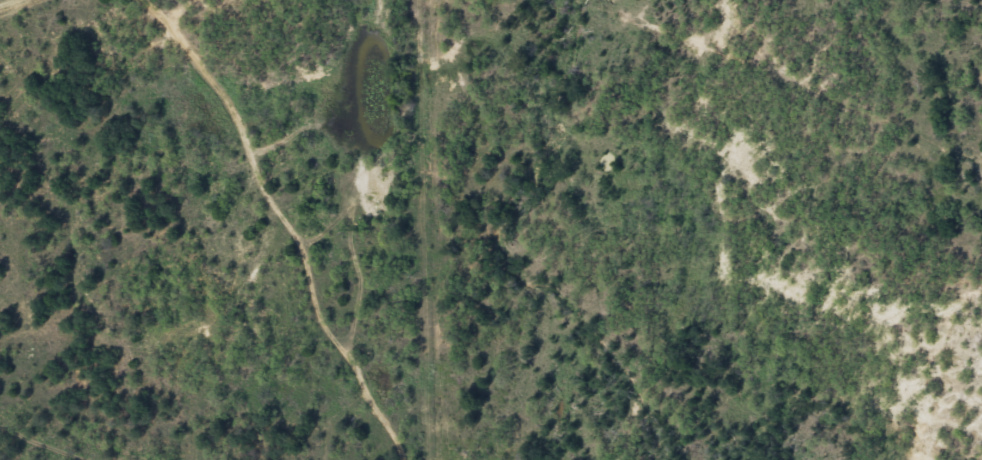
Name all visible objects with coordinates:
road: (730, 139)
road: (287, 223)

